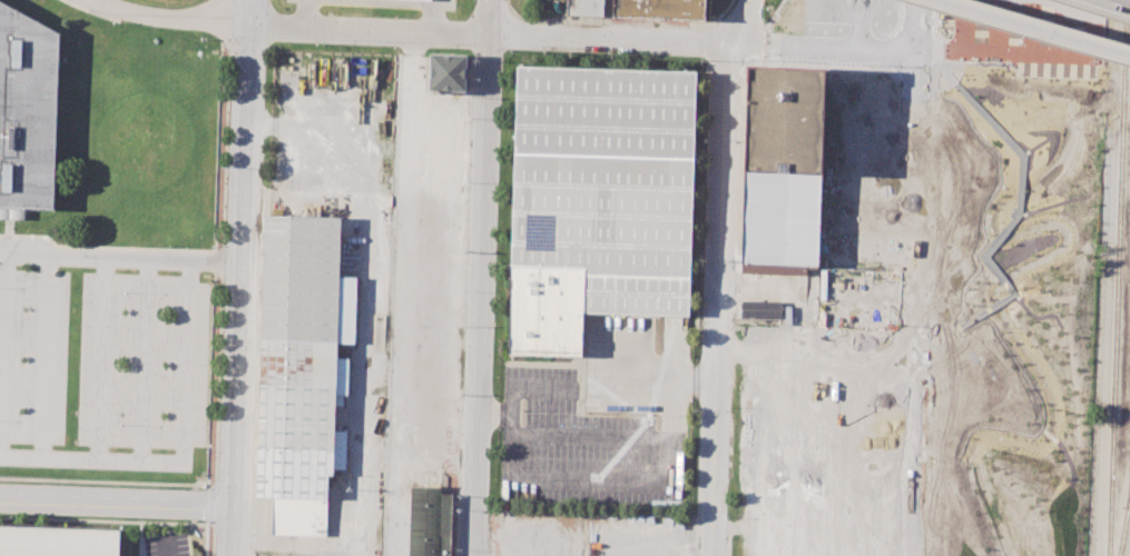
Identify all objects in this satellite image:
road: (1122, 1)
building: (582, 7)
building: (658, 9)
road: (244, 12)
road: (307, 12)
road: (431, 14)
road: (174, 17)
road: (521, 18)
road: (489, 19)
road: (917, 24)
road: (317, 28)
road: (1036, 28)
road: (440, 34)
road: (702, 43)
building: (445, 71)
building: (28, 112)
road: (255, 125)
building: (780, 170)
building: (598, 199)
road: (94, 265)
road: (235, 266)
road: (212, 269)
road: (716, 274)
railway: (1119, 278)
road: (481, 296)
building: (760, 309)
road: (363, 338)
parking lot: (104, 346)
road: (4, 358)
road: (46, 359)
road: (104, 361)
road: (146, 363)
building: (299, 369)
road: (702, 378)
road: (488, 418)
road: (504, 418)
road: (623, 438)
parking lot: (581, 445)
parking lot: (877, 449)
road: (179, 451)
road: (589, 477)
railway: (1128, 494)
road: (114, 504)
building: (430, 522)
railway: (1123, 522)
road: (226, 532)
building: (57, 542)
road: (256, 543)
road: (164, 548)

